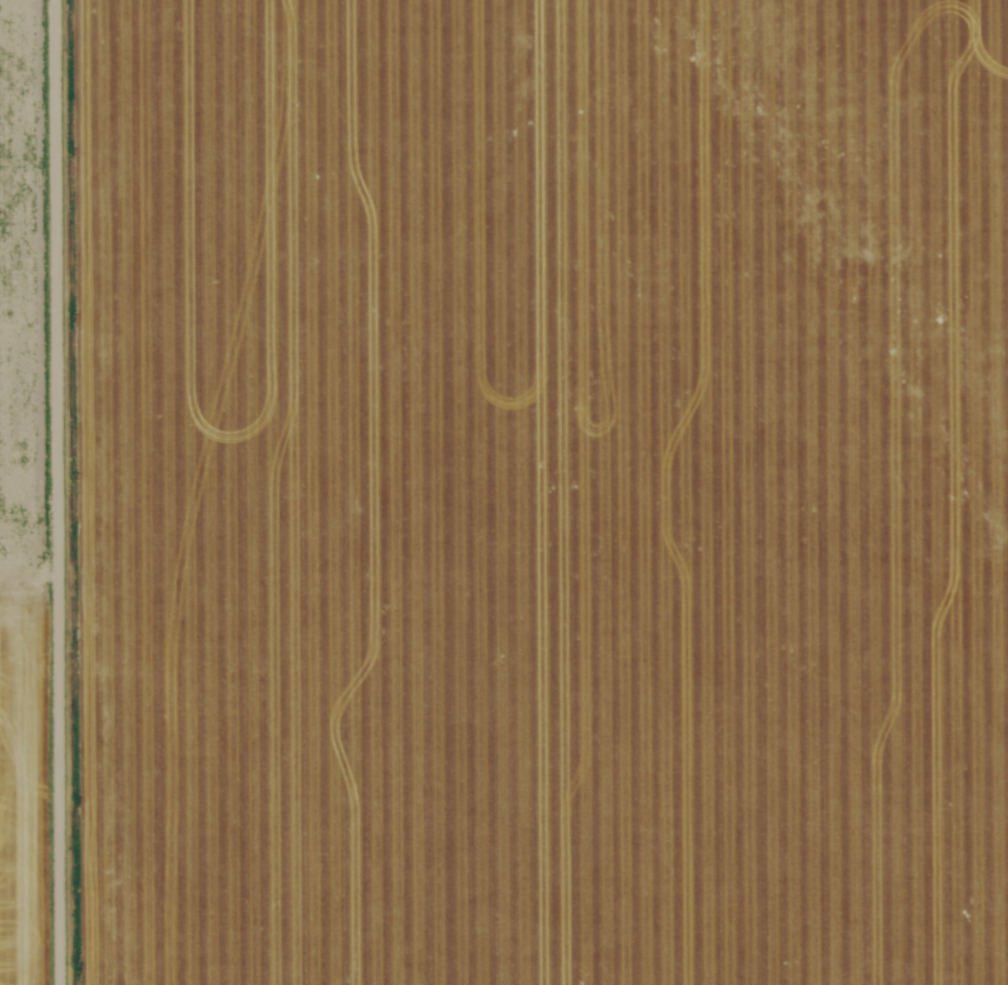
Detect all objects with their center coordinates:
road: (61, 492)

